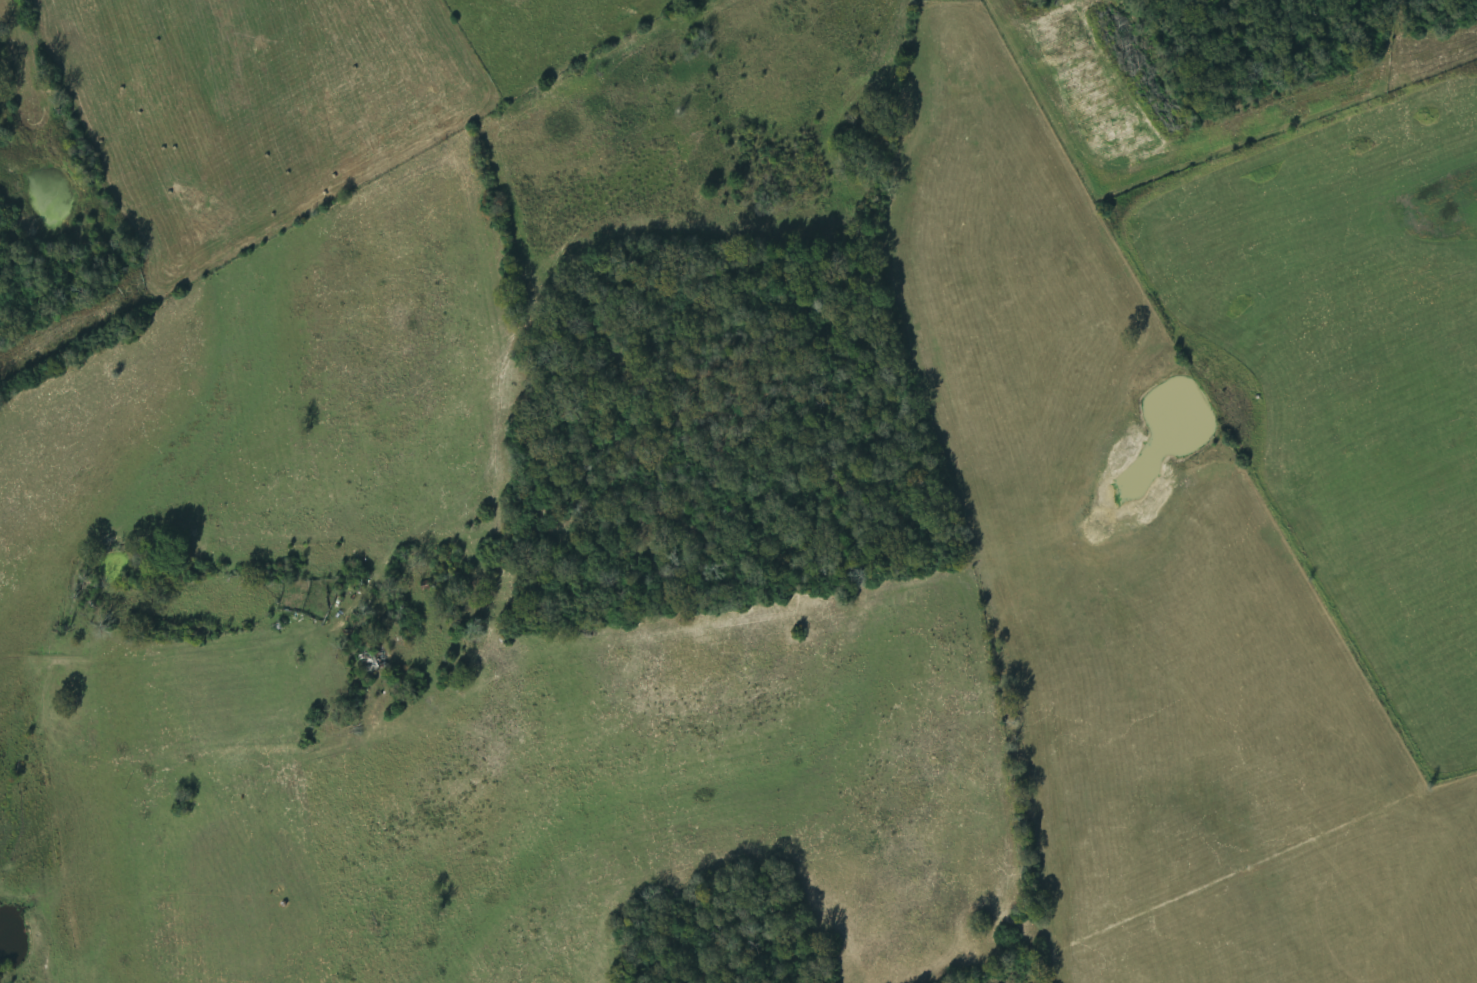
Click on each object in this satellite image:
road: (155, 658)

